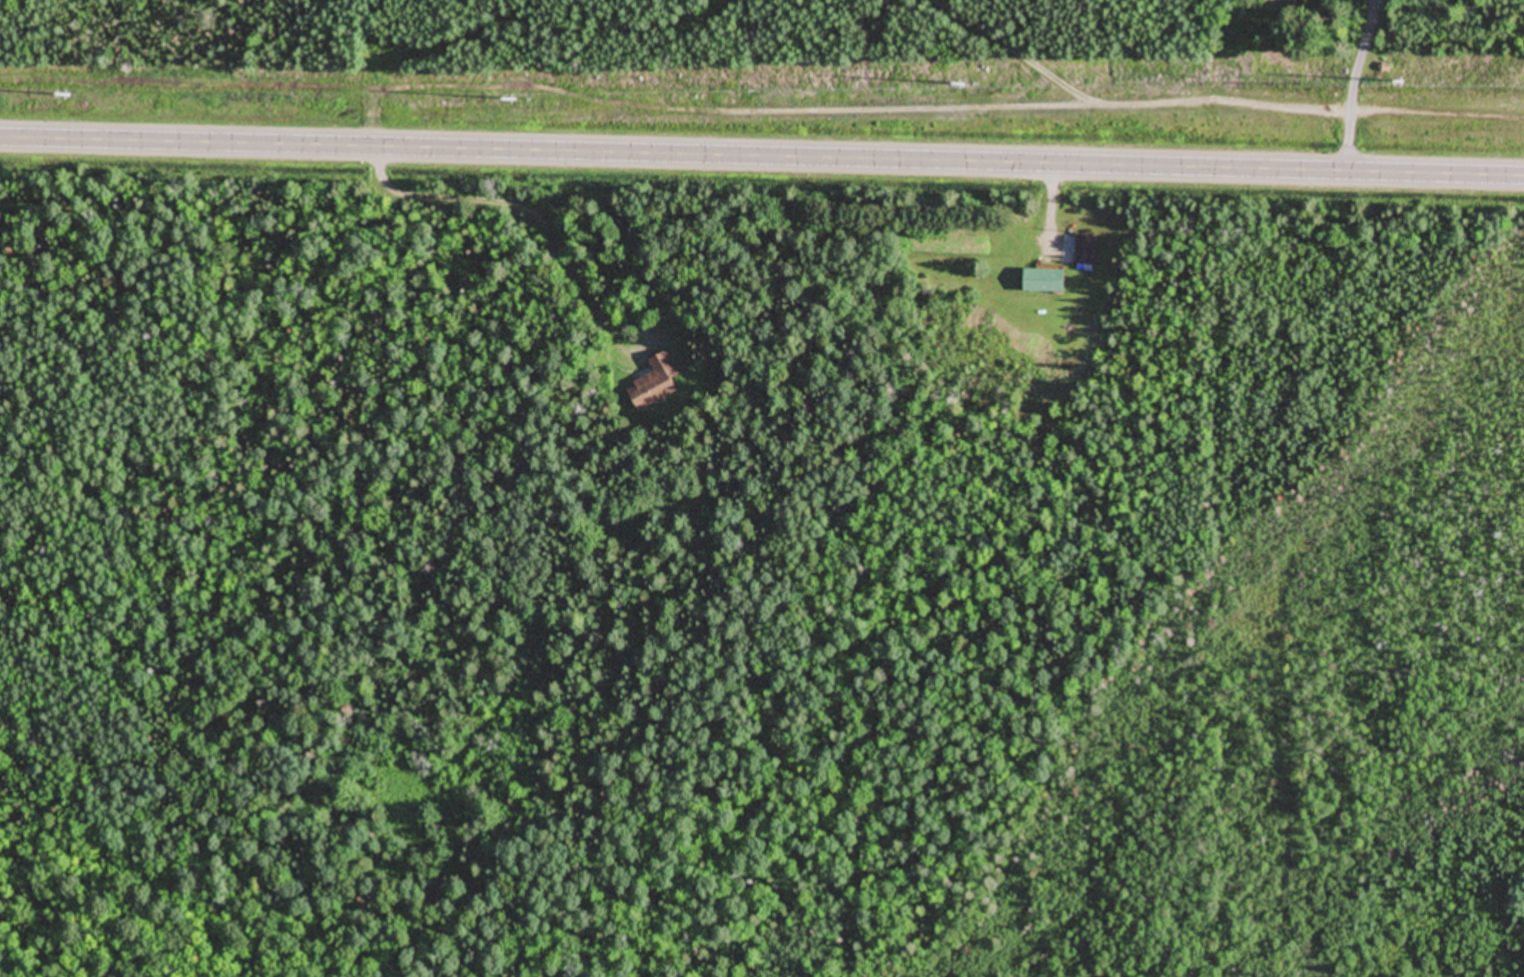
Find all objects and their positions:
road: (762, 157)
building: (1086, 251)
building: (1043, 282)
building: (656, 384)

